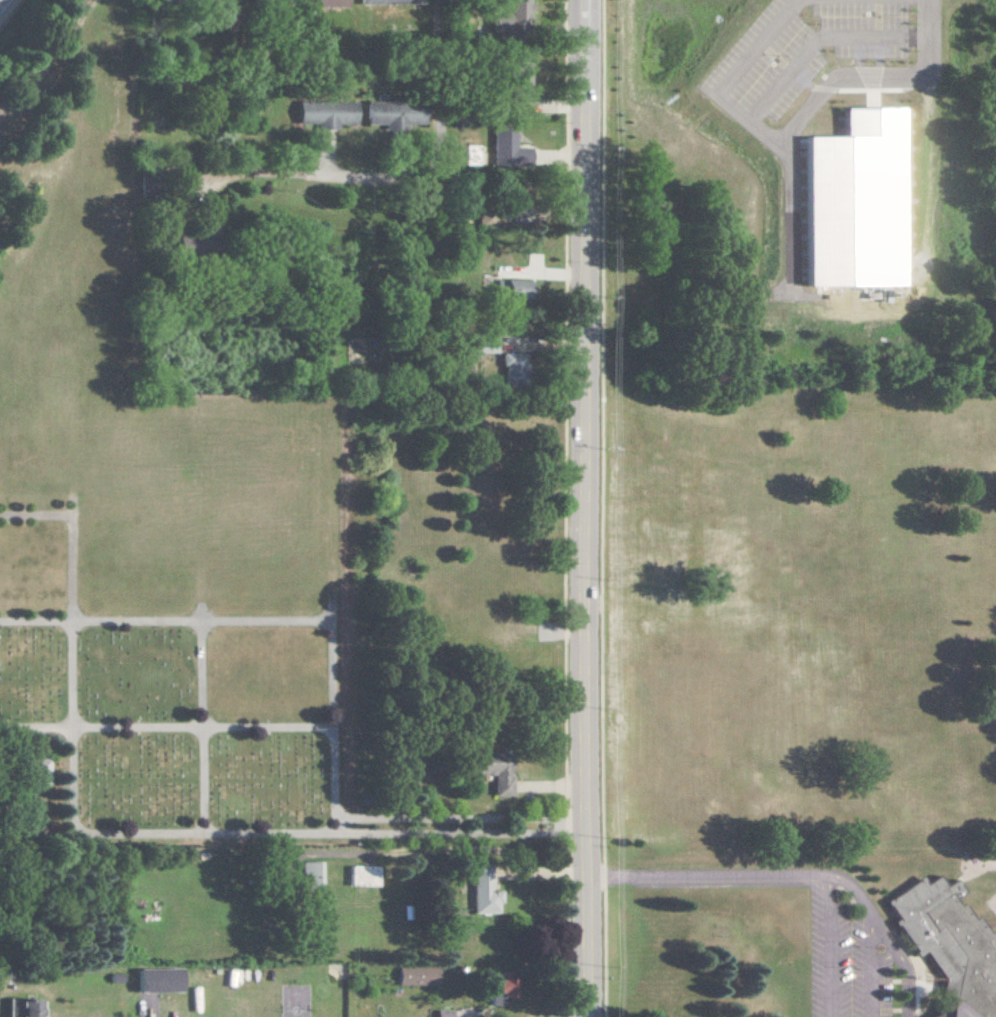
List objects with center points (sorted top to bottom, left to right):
road: (0, 0)
building: (328, 2)
building: (513, 18)
building: (522, 73)
building: (327, 113)
building: (395, 114)
road: (794, 126)
building: (508, 147)
road: (396, 176)
building: (858, 200)
building: (515, 368)
road: (584, 508)
road: (36, 511)
park: (165, 540)
road: (166, 620)
road: (203, 716)
road: (333, 717)
road: (166, 724)
road: (38, 739)
building: (40, 770)
building: (498, 775)
road: (72, 780)
road: (459, 816)
road: (451, 832)
building: (311, 874)
building: (363, 875)
road: (706, 876)
building: (483, 891)
road: (885, 936)
building: (950, 944)
road: (829, 945)
building: (416, 975)
building: (158, 980)
building: (500, 987)
building: (22, 1007)
building: (443, 1013)

